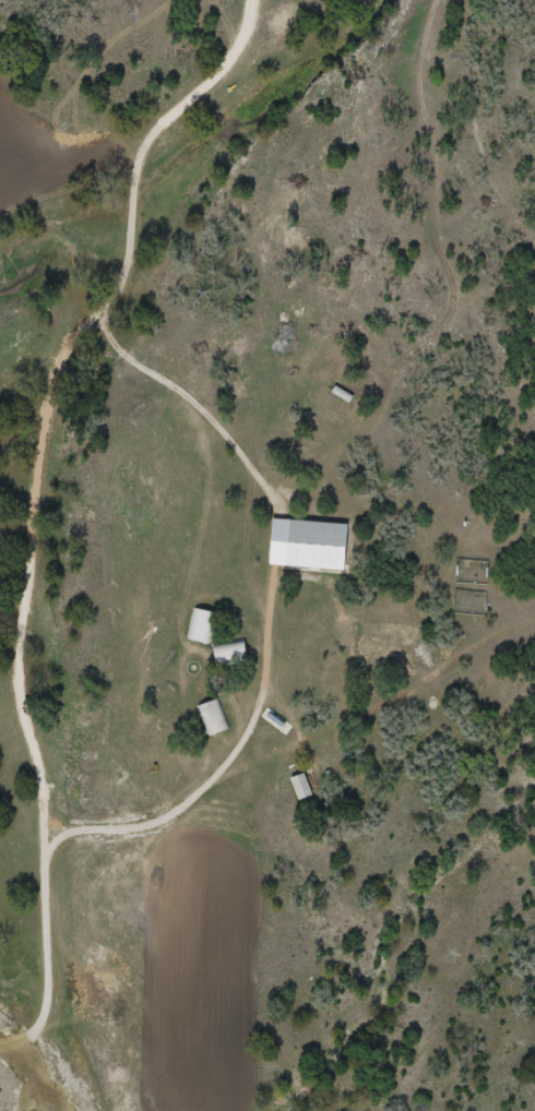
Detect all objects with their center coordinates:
building: (309, 546)
building: (214, 719)
building: (301, 788)

